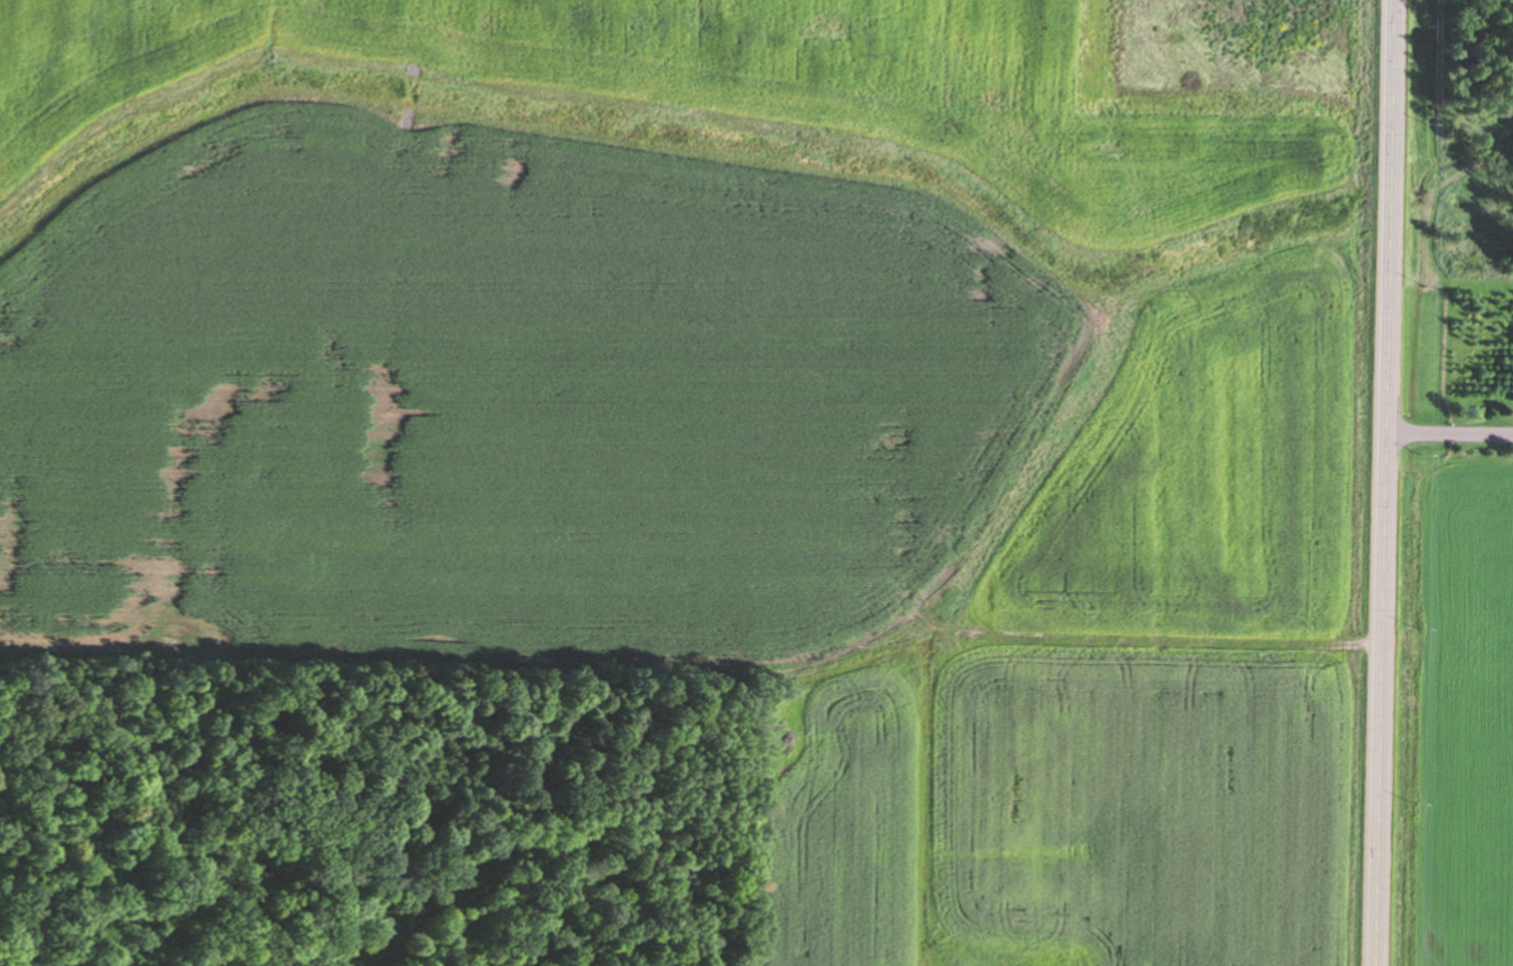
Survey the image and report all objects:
road: (1386, 483)

